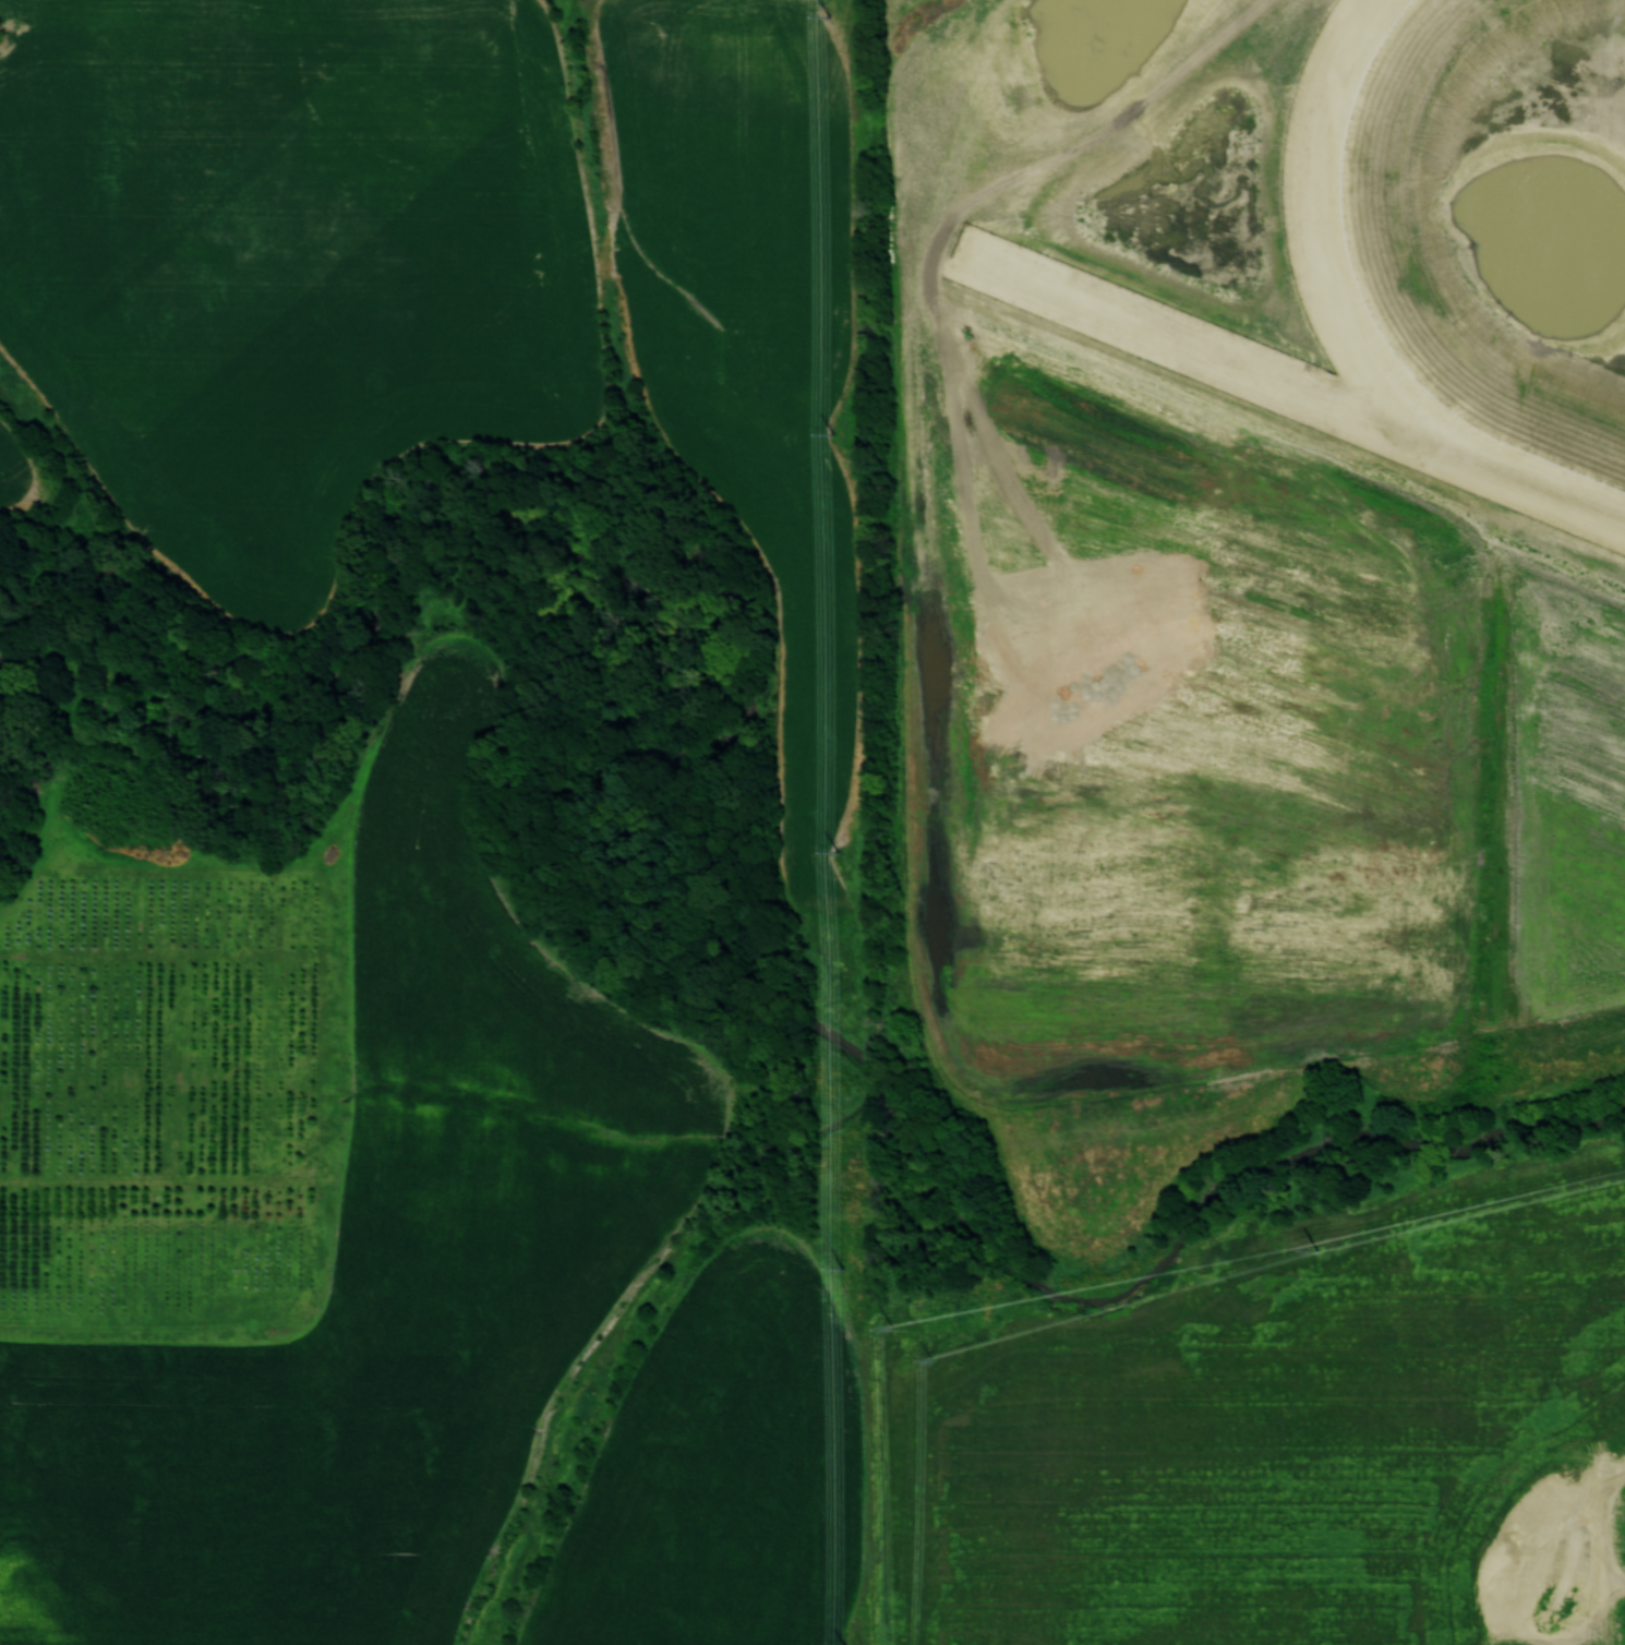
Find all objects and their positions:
power tower: (829, 15)
track: (1298, 239)
power tower: (832, 434)
power tower: (836, 851)
power tower: (1315, 1250)
power tower: (842, 1269)
power tower: (892, 1330)
power tower: (931, 1361)

